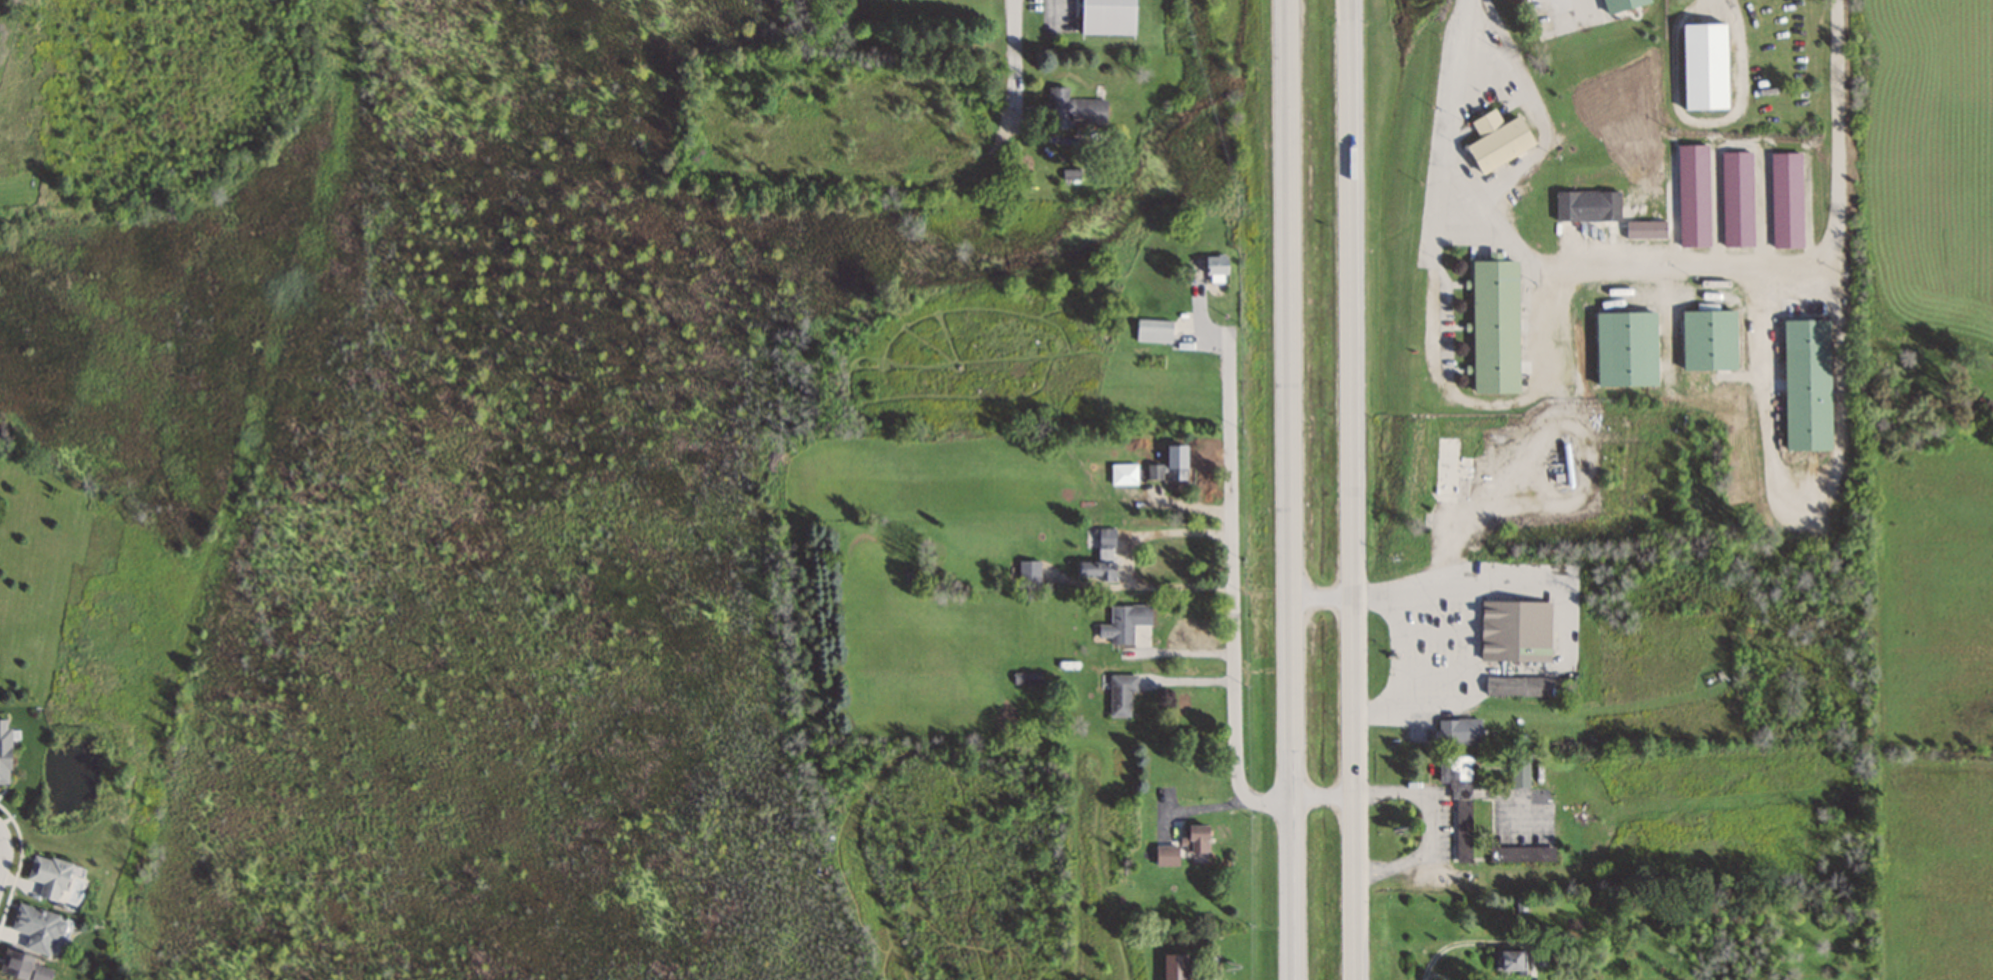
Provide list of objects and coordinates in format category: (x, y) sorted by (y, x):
building: (1619, 4)
road: (1347, 10)
building: (1107, 16)
road: (1012, 62)
building: (1704, 65)
building: (1073, 107)
building: (1496, 140)
building: (1693, 195)
building: (1737, 198)
building: (1786, 200)
building: (1589, 205)
building: (1645, 228)
building: (1214, 266)
road: (1665, 271)
building: (1494, 324)
building: (1153, 330)
building: (1708, 339)
building: (1625, 348)
building: (1805, 384)
building: (1175, 462)
building: (1449, 465)
building: (1153, 472)
building: (1123, 473)
road: (1293, 489)
road: (1351, 489)
road: (1488, 498)
road: (1126, 559)
building: (1095, 570)
building: (1028, 573)
road: (1322, 597)
road: (1234, 615)
building: (1123, 623)
building: (1514, 631)
road: (1473, 640)
building: (1027, 678)
building: (1516, 686)
building: (1121, 694)
building: (1458, 730)
building: (4, 753)
building: (1519, 773)
building: (1458, 802)
park: (202, 831)
building: (1195, 838)
road: (1, 840)
building: (1521, 854)
building: (1165, 855)
building: (48, 876)
building: (37, 928)
building: (1540, 958)
building: (1509, 960)
building: (21, 967)

